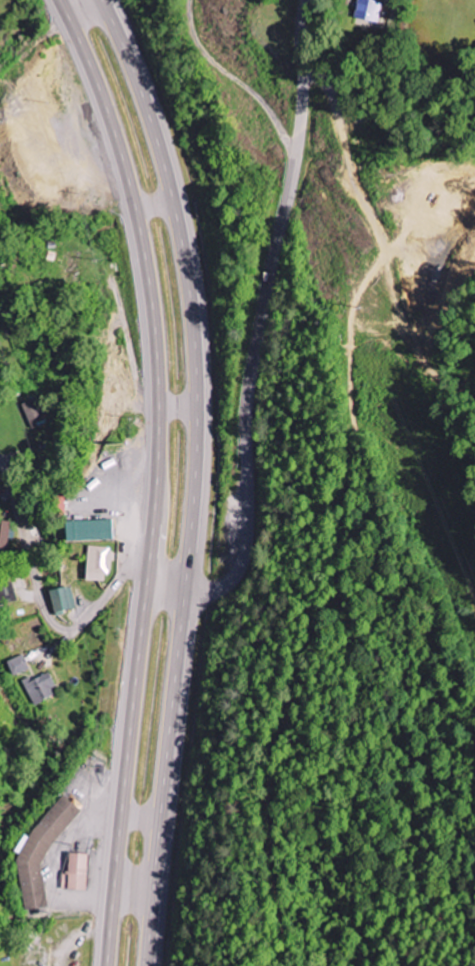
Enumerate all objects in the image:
building: (366, 11)
road: (237, 80)
road: (155, 204)
road: (188, 284)
power tower: (362, 307)
road: (264, 315)
road: (178, 403)
building: (32, 411)
road: (156, 476)
building: (6, 531)
building: (85, 531)
building: (96, 563)
building: (61, 600)
road: (53, 621)
building: (18, 666)
building: (40, 688)
road: (164, 773)
road: (141, 811)
building: (41, 851)
building: (74, 873)
road: (133, 882)

